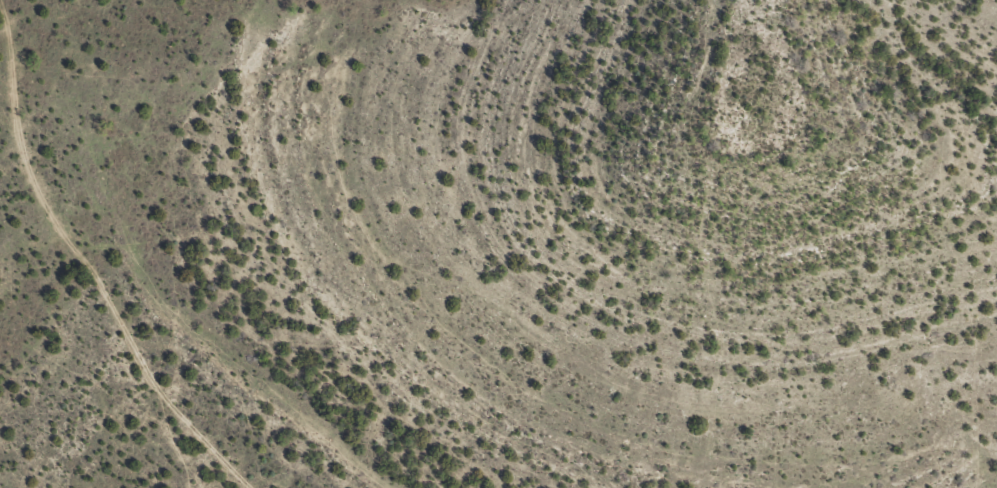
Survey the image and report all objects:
road: (108, 269)

